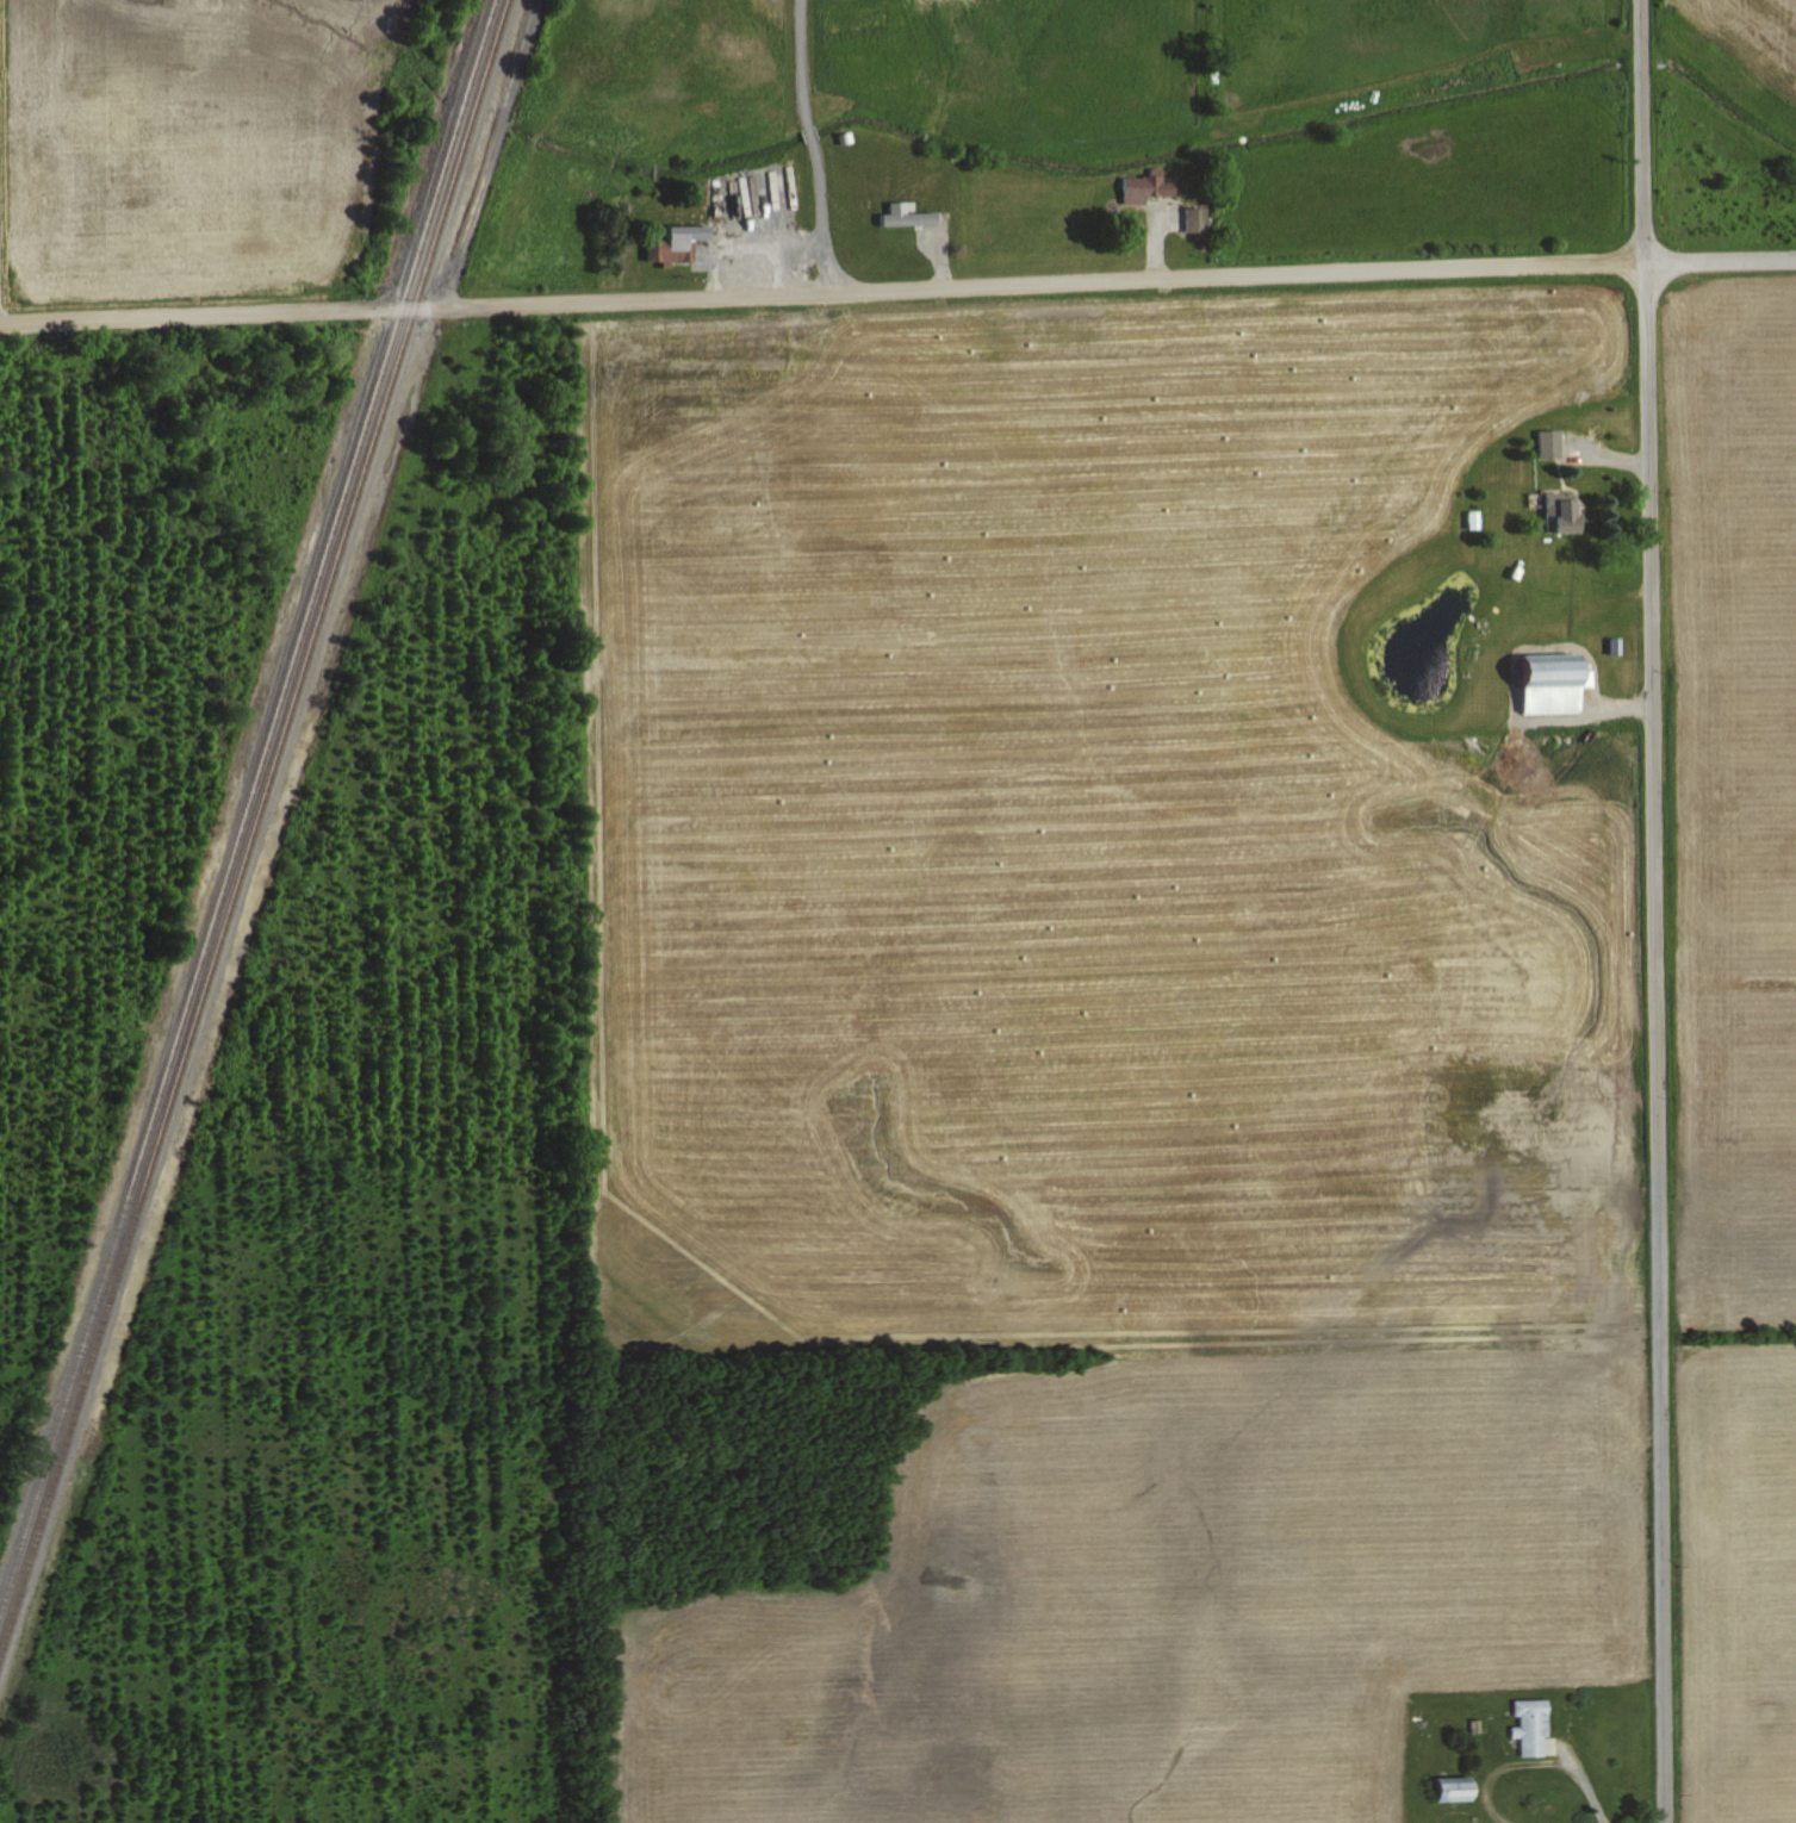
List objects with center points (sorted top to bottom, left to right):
road: (808, 145)
building: (1143, 187)
building: (905, 214)
building: (1195, 218)
building: (675, 242)
road: (1719, 257)
road: (820, 290)
building: (1549, 442)
building: (1560, 512)
building: (1473, 518)
building: (1553, 682)
railway: (249, 815)
road: (1651, 910)
building: (1530, 1724)
building: (1454, 1787)

